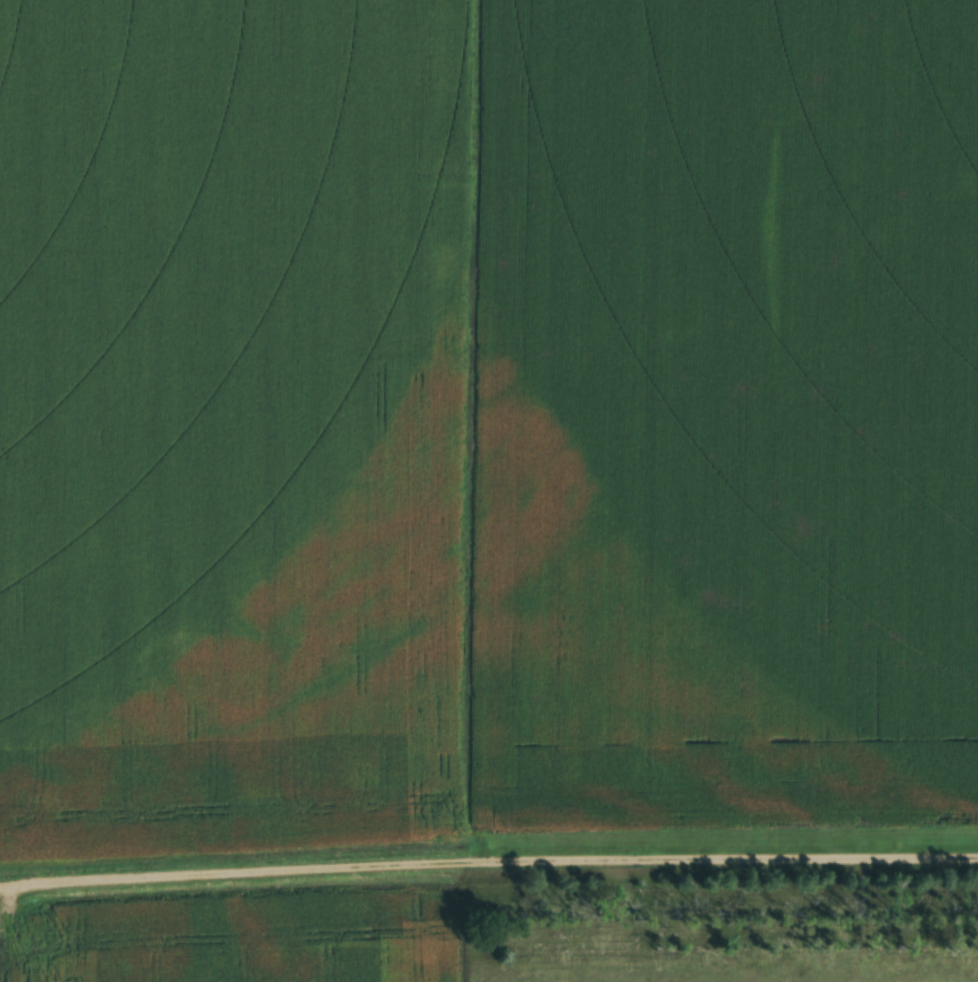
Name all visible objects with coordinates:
road: (488, 860)

